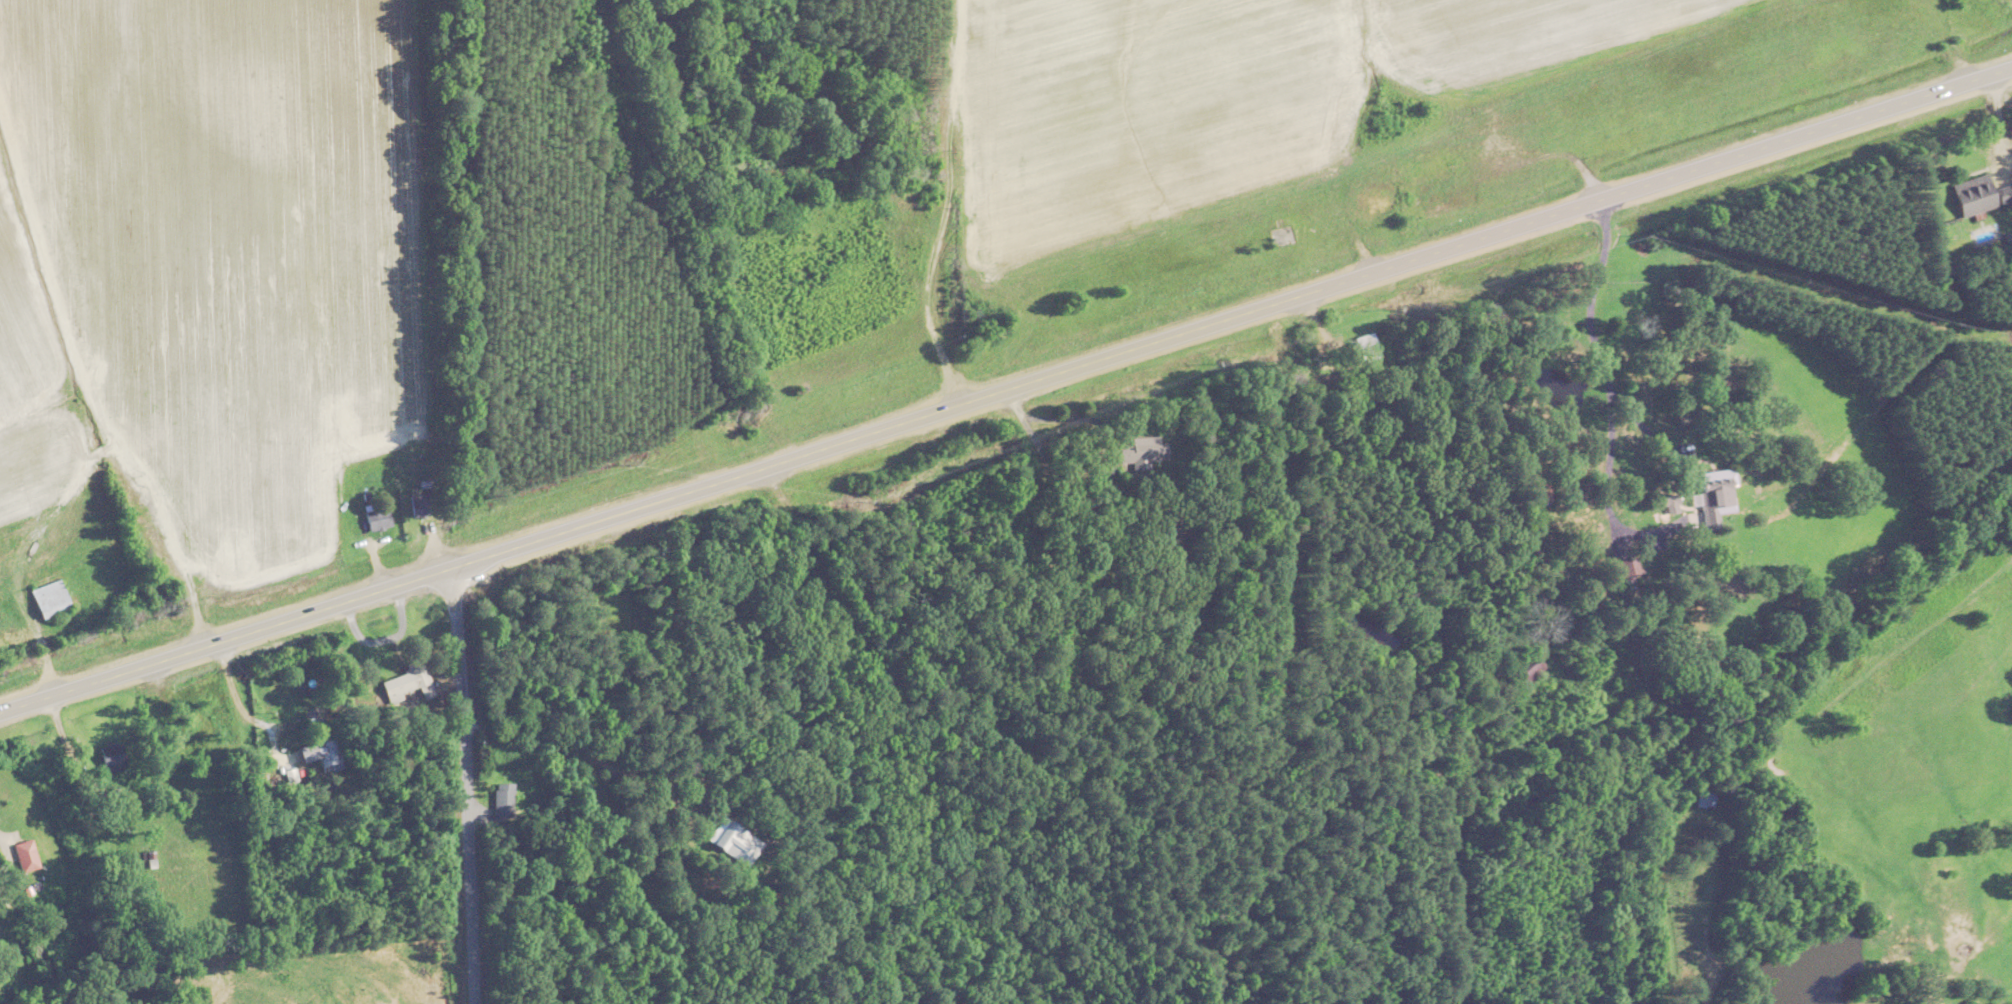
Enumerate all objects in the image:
building: (1445, 192)
building: (1981, 194)
road: (1005, 387)
road: (1604, 401)
building: (1147, 451)
building: (1722, 495)
building: (422, 505)
building: (381, 518)
building: (53, 599)
building: (413, 680)
road: (239, 702)
building: (114, 756)
road: (596, 757)
road: (464, 785)
building: (1709, 799)
building: (505, 800)
building: (729, 833)
road: (2, 854)
building: (29, 856)
building: (4, 909)

